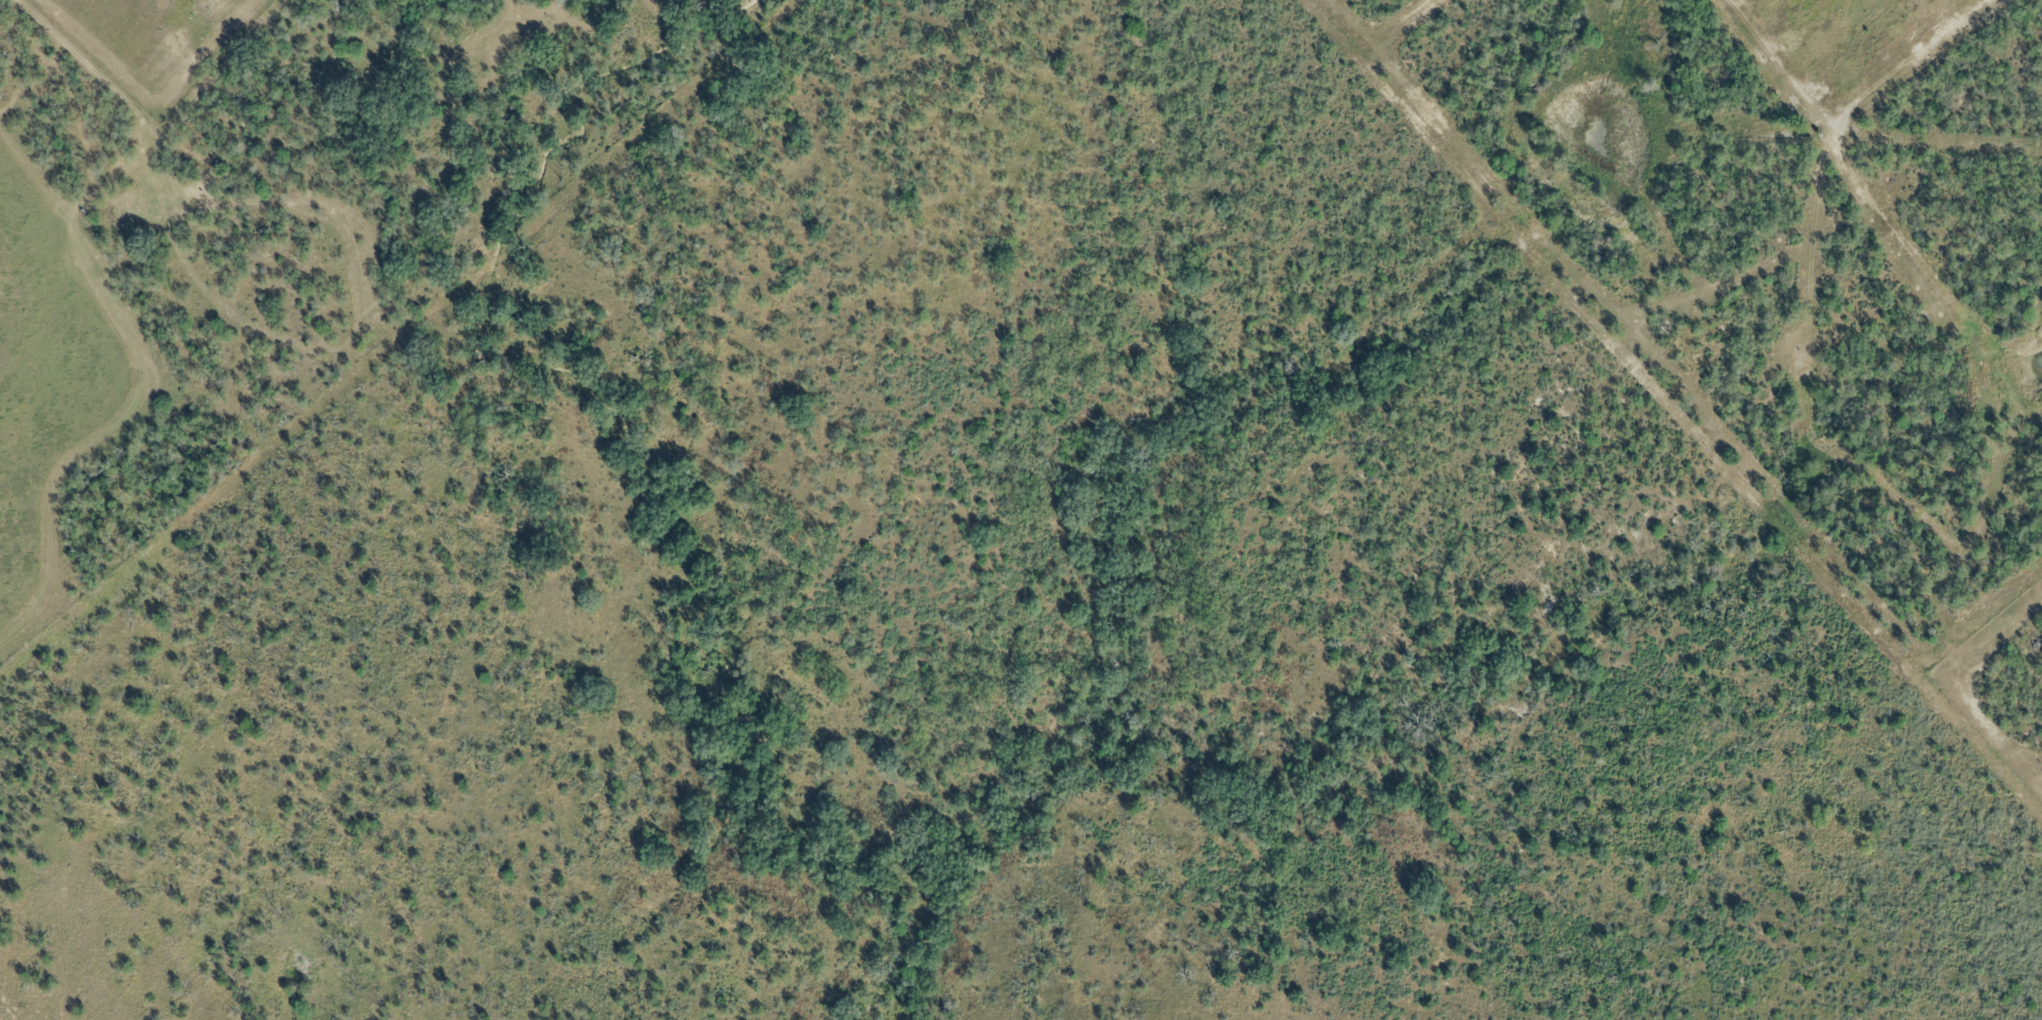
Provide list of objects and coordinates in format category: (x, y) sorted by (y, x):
road: (1629, 326)

